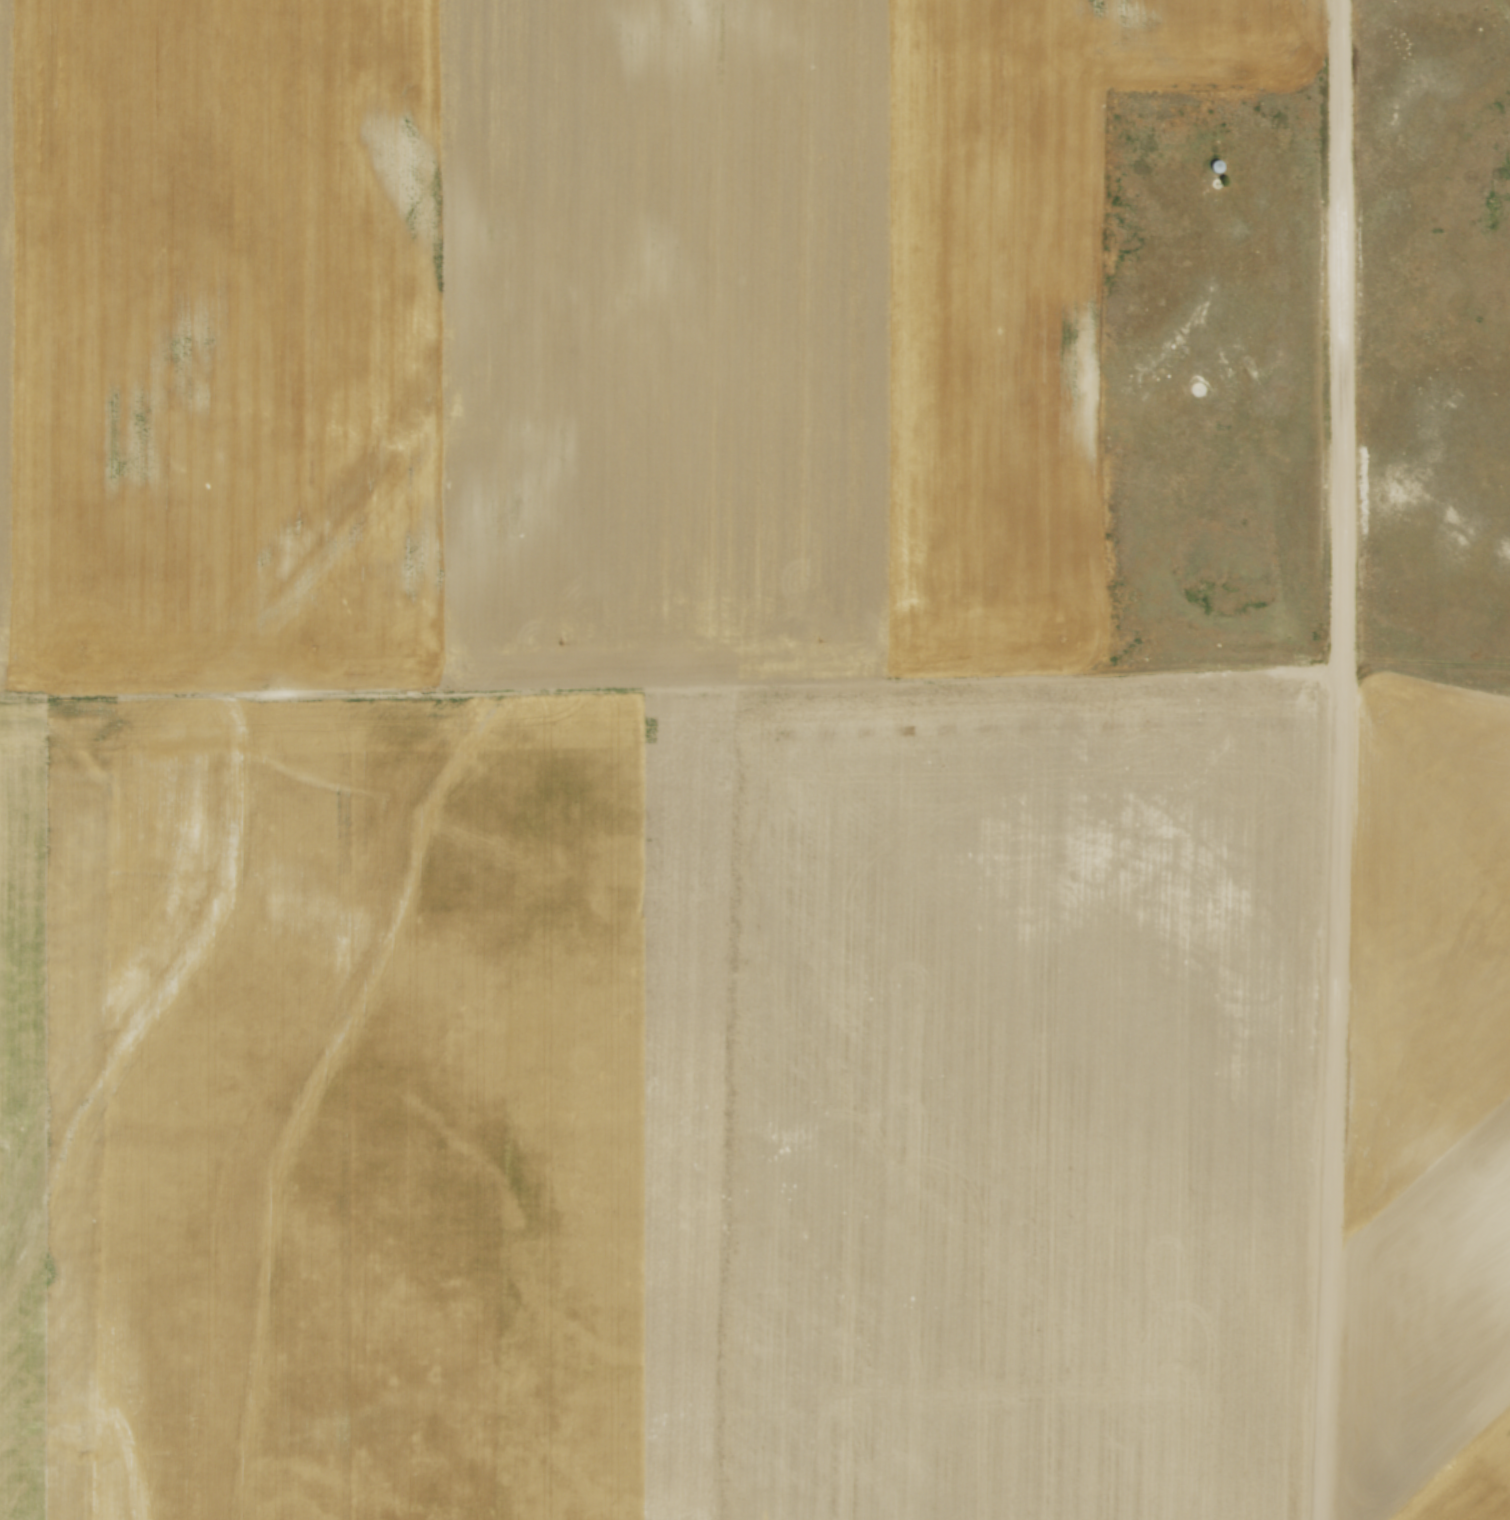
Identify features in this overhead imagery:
road: (1341, 760)
crop: (620, 783)
crop: (1428, 1111)

